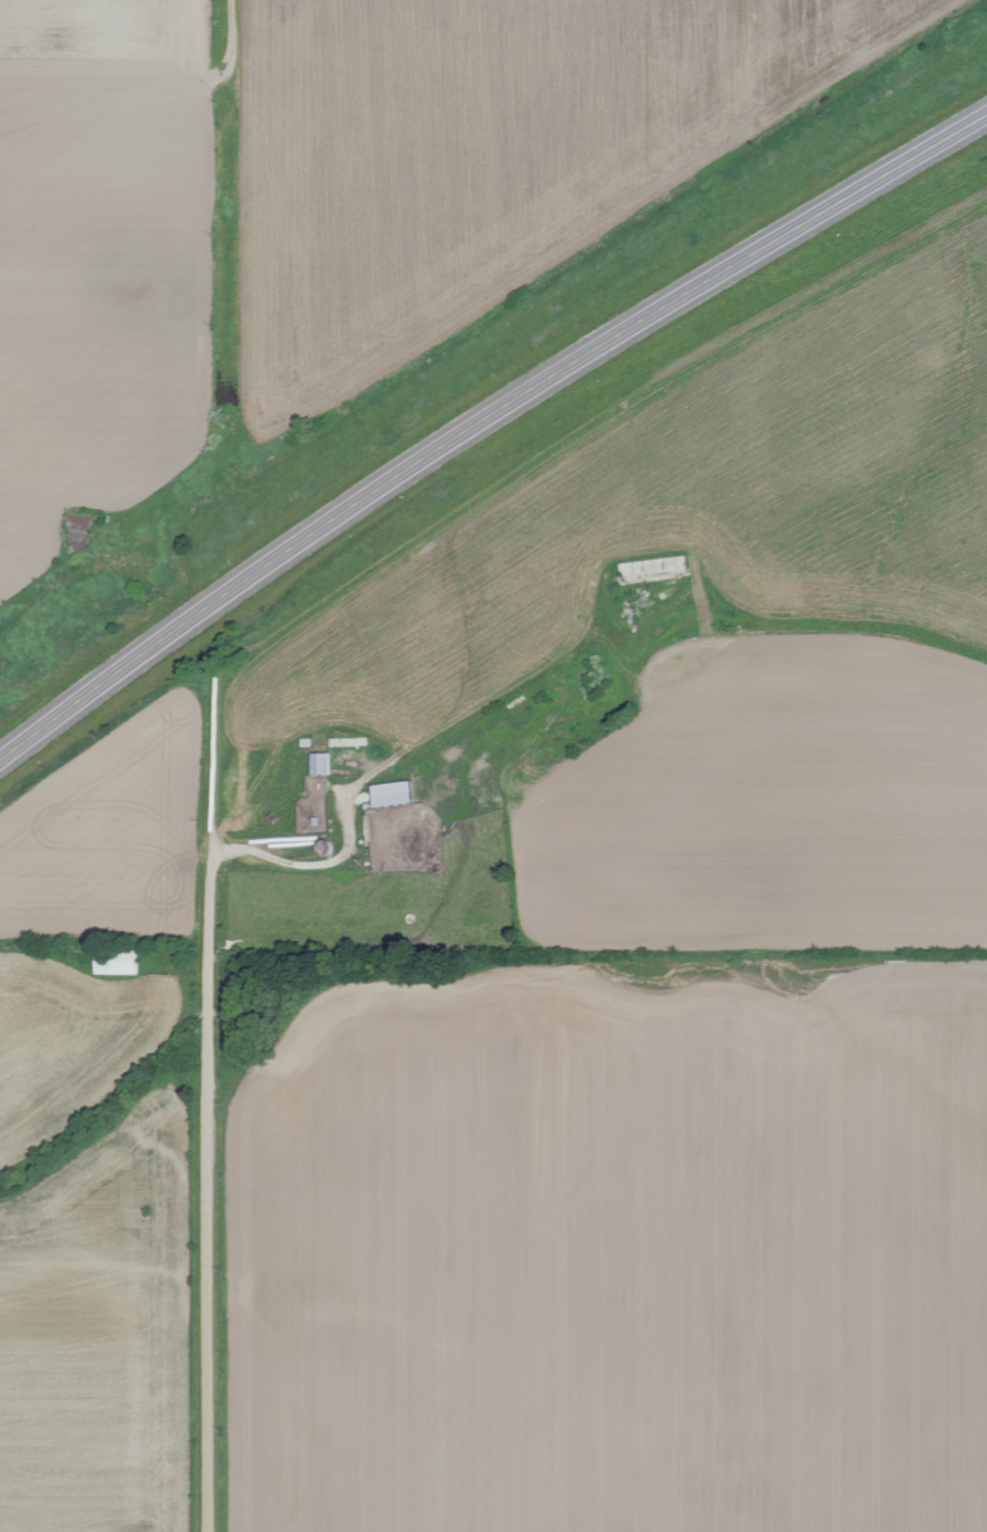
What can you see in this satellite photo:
road: (211, 219)
road: (483, 425)
building: (324, 762)
building: (399, 792)
building: (122, 960)
road: (210, 977)

